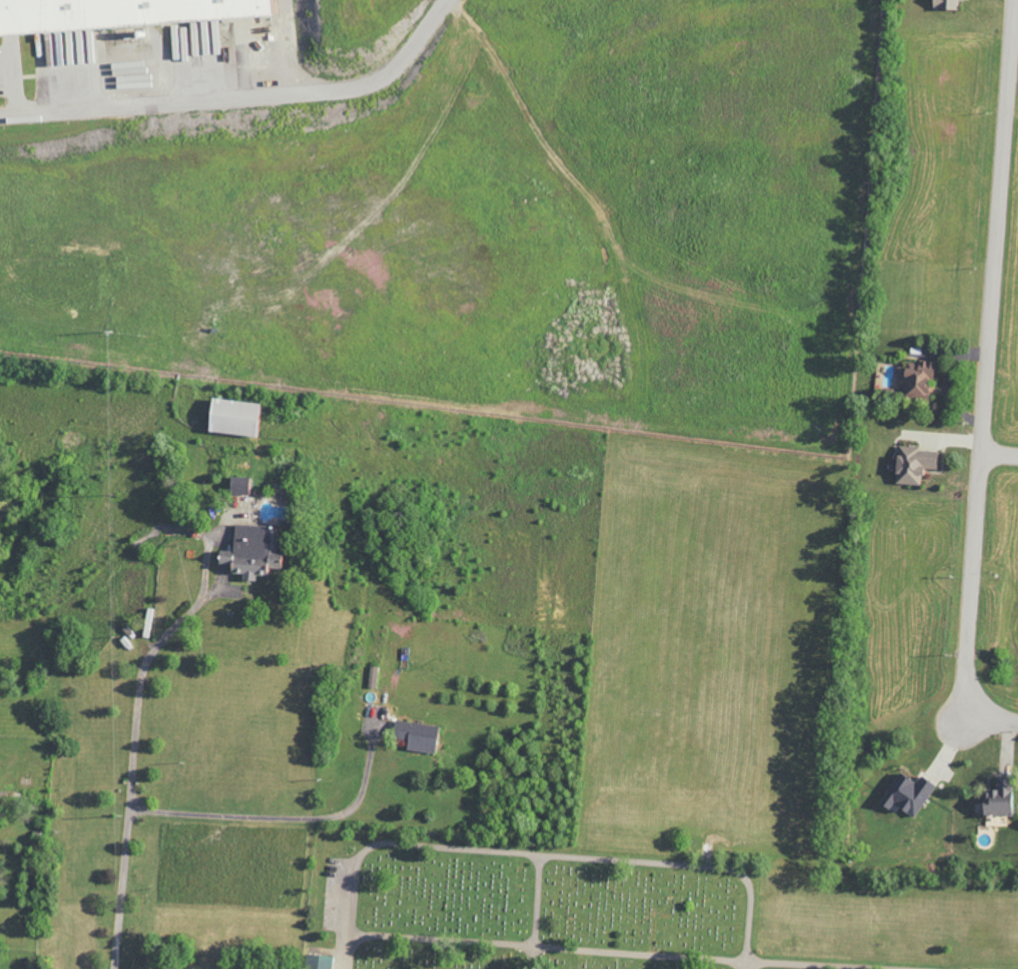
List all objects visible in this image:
building: (944, 4)
building: (117, 13)
building: (179, 43)
road: (242, 100)
building: (915, 377)
road: (984, 389)
building: (234, 416)
road: (999, 453)
building: (912, 463)
building: (238, 485)
building: (252, 551)
building: (414, 735)
building: (905, 793)
building: (996, 798)
road: (129, 813)
road: (296, 818)
road: (542, 855)
park: (636, 909)
road: (535, 912)
road: (644, 952)
building: (316, 962)

